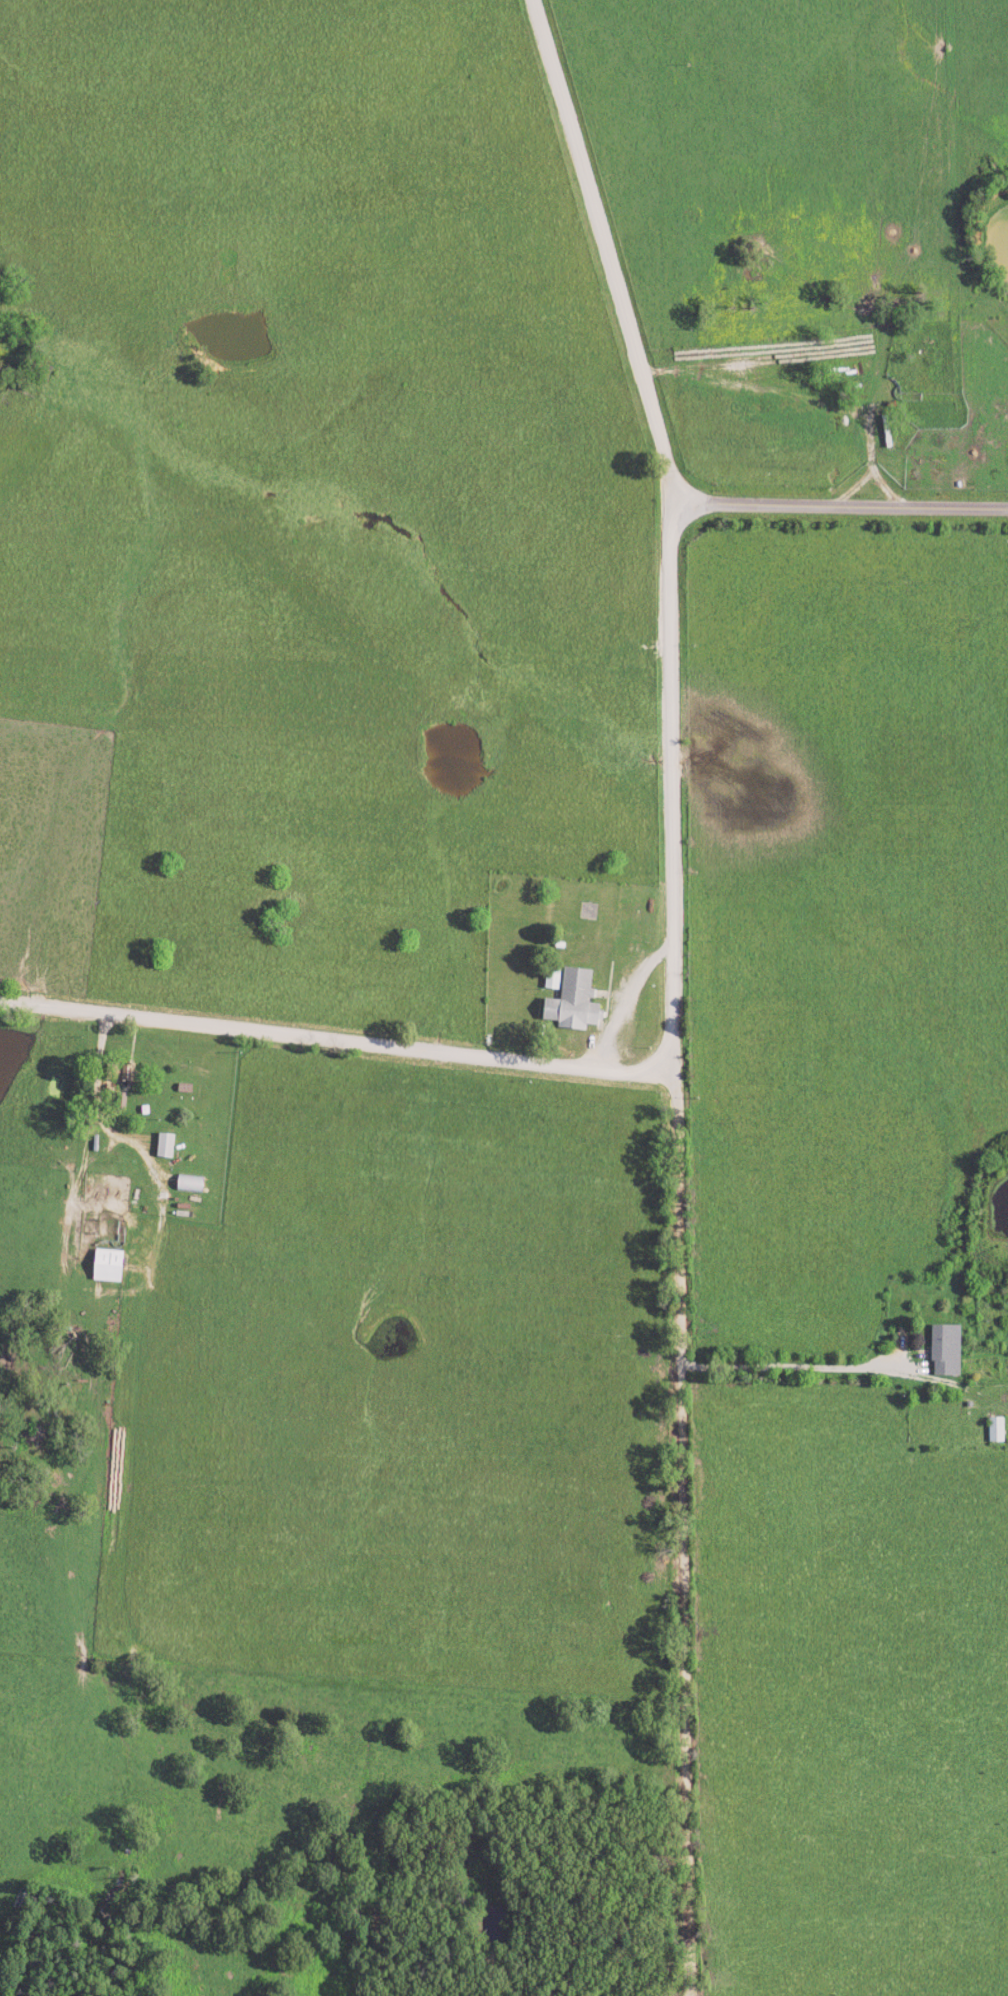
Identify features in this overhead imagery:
road: (612, 254)
road: (844, 507)
road: (623, 999)
building: (571, 1001)
road: (337, 1041)
road: (93, 1116)
building: (165, 1146)
road: (679, 1251)
building: (106, 1266)
building: (945, 1350)
road: (793, 1365)
building: (996, 1430)
road: (849, 1859)

